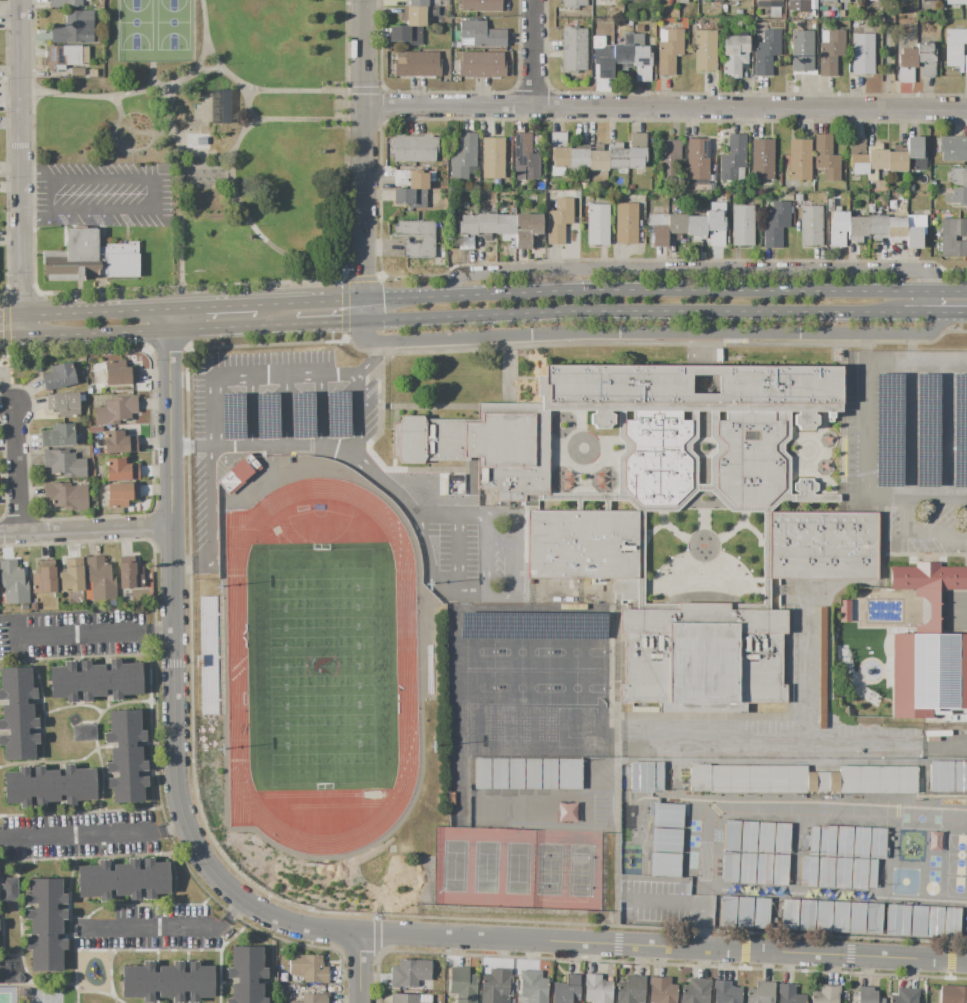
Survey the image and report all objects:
building: (635, 0)
building: (737, 0)
building: (871, 0)
building: (899, 0)
building: (828, 1)
building: (844, 1)
building: (926, 1)
building: (682, 2)
building: (956, 2)
building: (65, 3)
building: (422, 3)
building: (444, 3)
building: (574, 3)
building: (812, 4)
building: (480, 5)
building: (798, 5)
building: (771, 6)
building: (739, 12)
building: (866, 15)
building: (417, 16)
building: (888, 21)
park: (135, 24)
park: (167, 24)
building: (736, 24)
building: (74, 29)
road: (205, 34)
building: (407, 34)
building: (482, 34)
building: (453, 44)
building: (956, 48)
building: (574, 49)
building: (669, 50)
building: (705, 50)
building: (802, 51)
building: (830, 51)
building: (623, 52)
building: (765, 53)
road: (532, 54)
building: (863, 55)
building: (452, 56)
building: (734, 56)
building: (877, 56)
building: (65, 57)
building: (641, 57)
building: (602, 58)
building: (926, 59)
building: (417, 64)
building: (907, 64)
building: (481, 65)
building: (76, 72)
building: (92, 73)
road: (308, 91)
road: (101, 95)
building: (219, 106)
road: (666, 109)
road: (309, 120)
park: (224, 127)
road: (242, 138)
building: (558, 139)
building: (638, 140)
building: (414, 148)
building: (953, 149)
building: (616, 156)
building: (858, 156)
building: (915, 156)
building: (463, 157)
building: (635, 157)
building: (493, 158)
building: (525, 158)
building: (578, 158)
building: (826, 158)
building: (697, 159)
building: (761, 159)
building: (800, 159)
building: (876, 159)
building: (896, 159)
road: (366, 160)
building: (597, 160)
building: (669, 160)
building: (733, 160)
building: (559, 161)
road: (22, 169)
building: (431, 176)
building: (711, 178)
building: (958, 178)
building: (411, 179)
building: (582, 186)
building: (720, 186)
building: (630, 187)
building: (576, 194)
parking lot: (103, 195)
road: (153, 195)
building: (957, 197)
building: (409, 198)
building: (617, 198)
building: (787, 198)
building: (798, 198)
building: (532, 199)
building: (830, 205)
building: (852, 205)
building: (717, 206)
building: (882, 206)
building: (901, 207)
building: (559, 221)
building: (676, 223)
building: (626, 224)
building: (774, 224)
building: (485, 225)
building: (597, 225)
building: (505, 226)
building: (742, 226)
building: (811, 226)
building: (696, 227)
building: (877, 227)
building: (715, 228)
building: (838, 228)
building: (857, 228)
building: (526, 229)
building: (658, 229)
building: (896, 229)
building: (466, 231)
building: (915, 231)
building: (953, 238)
building: (427, 240)
road: (266, 242)
building: (89, 259)
road: (688, 272)
road: (690, 288)
road: (953, 290)
road: (349, 299)
traffic signals: (362, 299)
road: (212, 307)
road: (957, 309)
road: (654, 311)
road: (83, 312)
traffic signals: (362, 320)
road: (327, 321)
road: (653, 330)
road: (158, 331)
road: (11, 338)
road: (954, 358)
building: (119, 373)
road: (304, 375)
building: (59, 376)
road: (189, 378)
building: (691, 400)
building: (64, 404)
road: (866, 407)
road: (316, 409)
road: (284, 410)
building: (116, 411)
road: (251, 411)
road: (208, 412)
road: (350, 416)
road: (905, 425)
road: (941, 425)
building: (95, 429)
building: (58, 435)
building: (119, 442)
parking lot: (908, 443)
building: (657, 457)
road: (355, 460)
building: (64, 463)
building: (754, 463)
road: (17, 468)
building: (120, 470)
building: (239, 473)
parking lot: (201, 480)
road: (936, 493)
building: (121, 494)
building: (66, 495)
road: (209, 497)
road: (85, 530)
road: (914, 534)
building: (816, 548)
road: (454, 549)
building: (590, 549)
road: (484, 557)
road: (517, 557)
road: (195, 562)
building: (129, 573)
building: (71, 576)
road: (430, 577)
building: (928, 577)
building: (44, 578)
building: (100, 578)
building: (13, 582)
road: (188, 593)
building: (33, 606)
building: (24, 607)
building: (844, 611)
road: (103, 635)
building: (701, 657)
track: (236, 662)
building: (822, 666)
building: (927, 667)
park: (320, 669)
building: (122, 679)
building: (90, 681)
building: (64, 682)
building: (16, 686)
building: (18, 718)
building: (124, 729)
building: (83, 732)
road: (797, 741)
building: (18, 745)
building: (126, 761)
building: (480, 773)
building: (497, 773)
building: (516, 774)
building: (530, 774)
building: (568, 774)
building: (656, 775)
building: (547, 776)
building: (640, 776)
building: (940, 776)
building: (959, 776)
building: (747, 778)
building: (876, 779)
building: (821, 781)
building: (77, 784)
building: (45, 786)
building: (18, 787)
building: (127, 787)
building: (565, 812)
building: (667, 815)
road: (94, 831)
building: (731, 836)
building: (748, 836)
building: (765, 837)
building: (782, 838)
building: (666, 840)
building: (813, 840)
building: (827, 840)
building: (844, 841)
building: (860, 842)
building: (877, 843)
building: (664, 864)
park: (452, 865)
park: (484, 866)
park: (516, 867)
park: (548, 868)
building: (730, 868)
building: (747, 868)
building: (763, 869)
park: (580, 870)
building: (780, 870)
building: (809, 871)
building: (826, 872)
building: (842, 873)
building: (872, 873)
building: (859, 874)
building: (153, 878)
building: (127, 879)
building: (95, 880)
building: (9, 889)
building: (45, 893)
parking lot: (653, 900)
road: (687, 900)
building: (727, 911)
building: (744, 912)
building: (761, 912)
building: (789, 914)
building: (806, 915)
building: (823, 916)
building: (840, 917)
building: (857, 917)
building: (873, 918)
building: (45, 920)
building: (897, 920)
building: (918, 920)
building: (934, 920)
building: (951, 921)
road: (298, 924)
road: (171, 928)
building: (45, 952)
building: (308, 968)
road: (368, 971)
building: (409, 973)
building: (246, 975)
building: (139, 982)
building: (171, 982)
building: (198, 982)
building: (462, 985)
building: (496, 986)
building: (532, 987)
building: (566, 989)
building: (597, 989)
building: (631, 990)
building: (661, 991)
building: (696, 991)
building: (726, 992)
building: (760, 992)
building: (789, 994)
building: (825, 994)
building: (953, 994)
building: (868, 996)
building: (904, 996)
building: (315, 998)
building: (410, 998)

